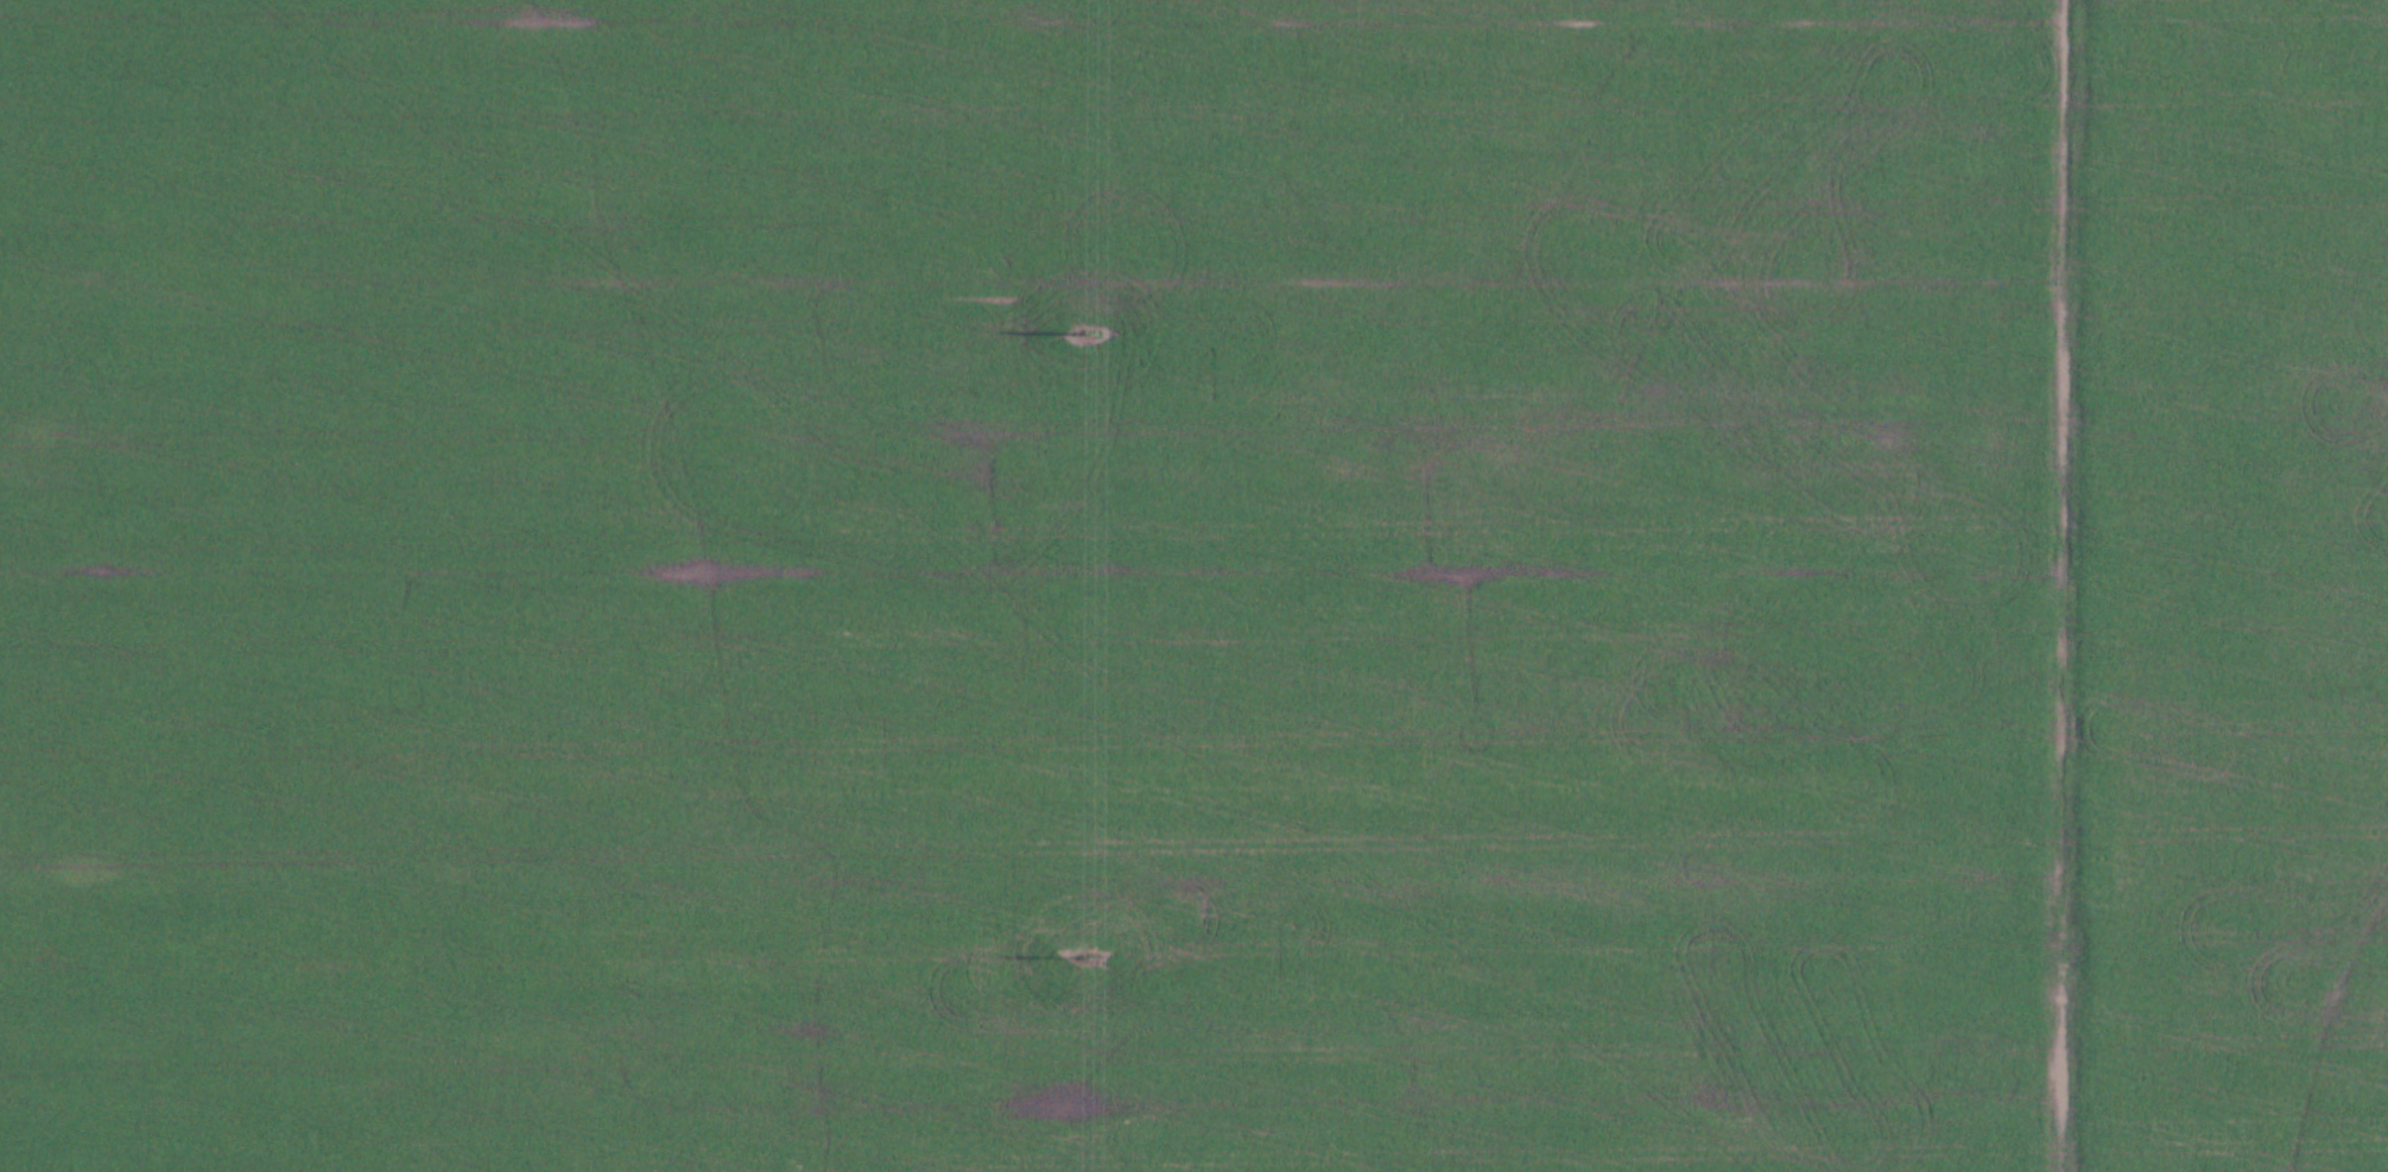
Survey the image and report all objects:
power tower: (1087, 331)
power tower: (1085, 956)

